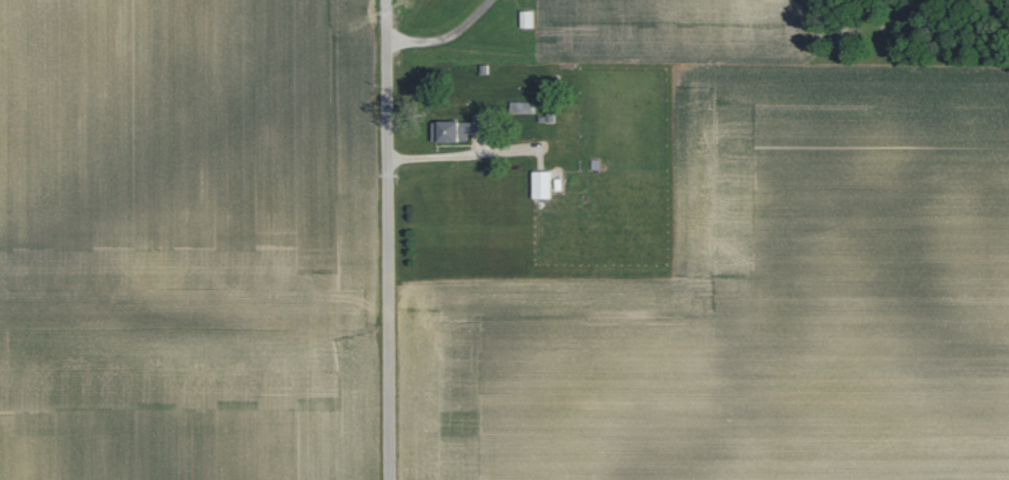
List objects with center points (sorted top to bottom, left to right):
building: (524, 18)
road: (444, 38)
building: (454, 129)
road: (439, 156)
building: (539, 184)
road: (387, 239)

